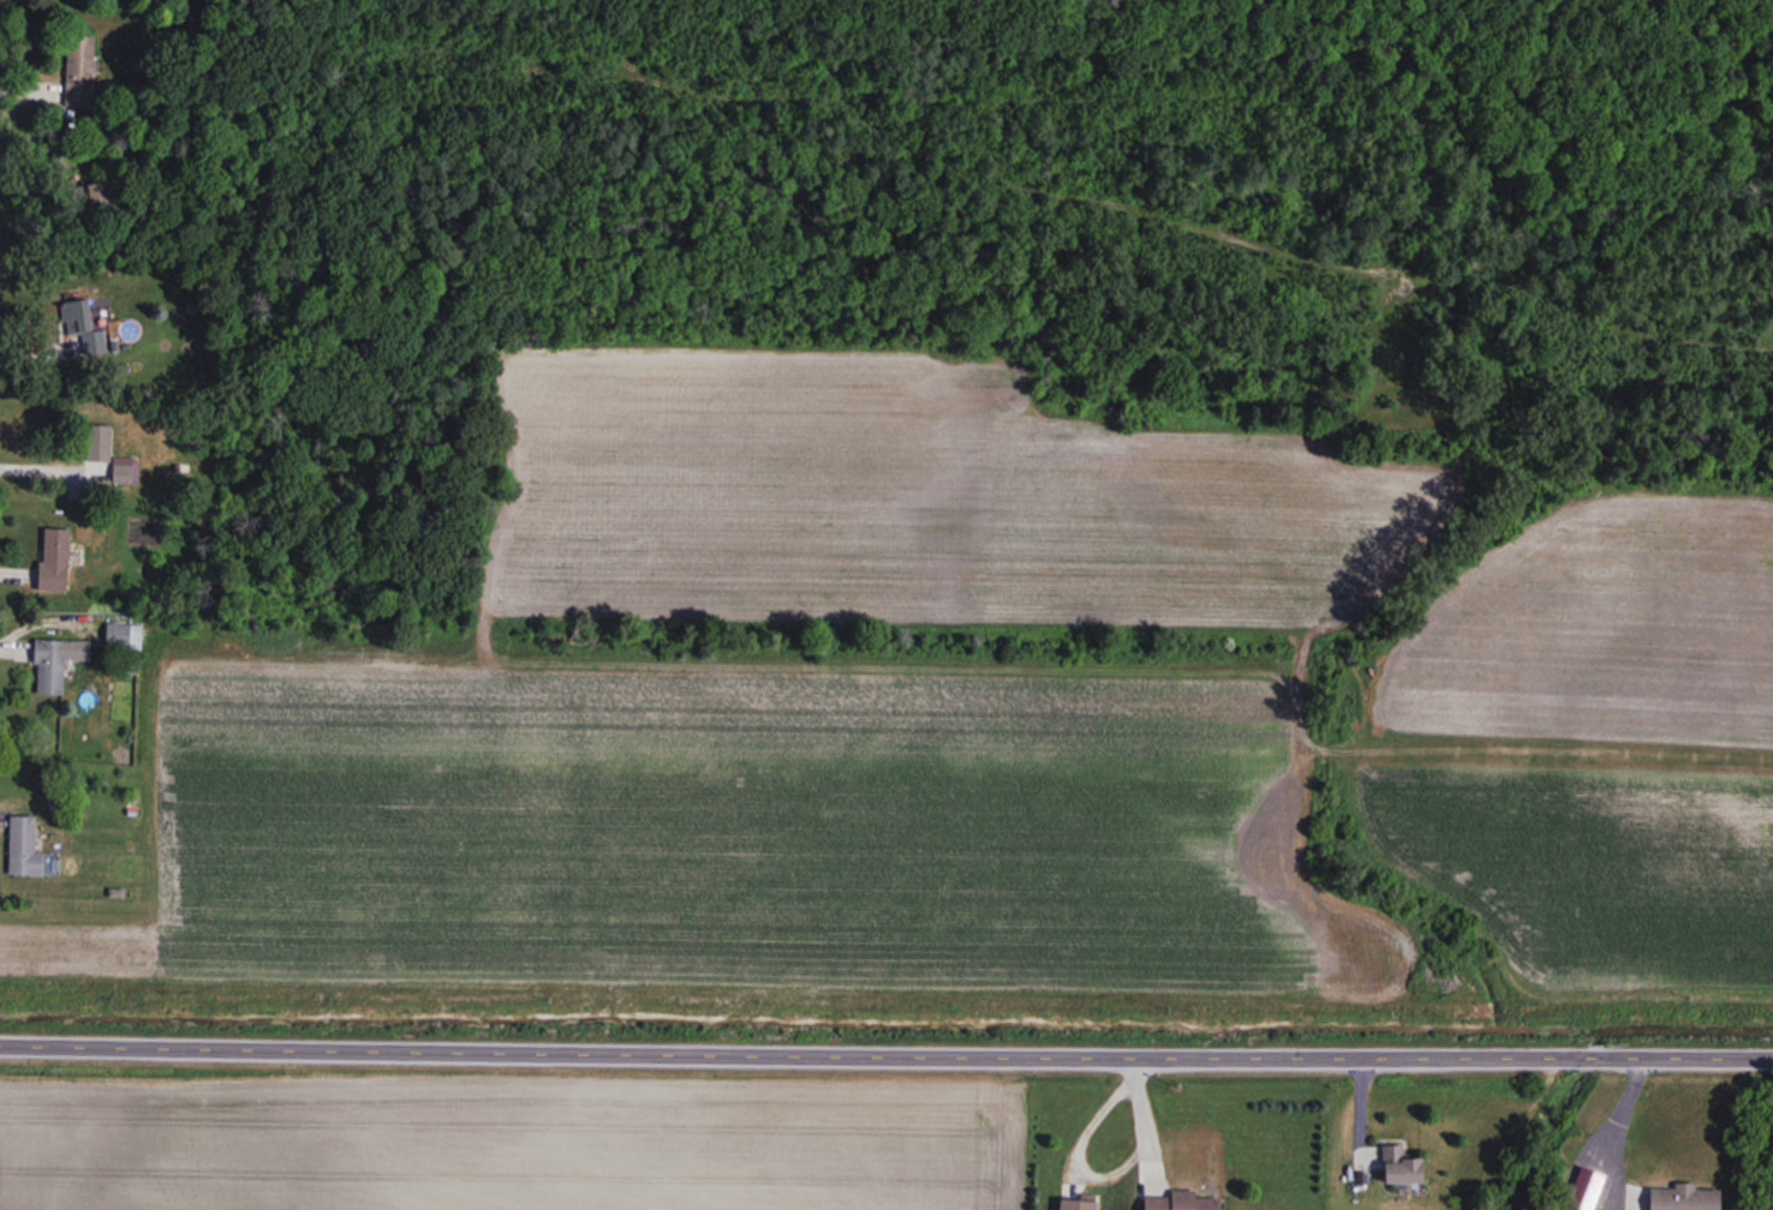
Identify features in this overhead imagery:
building: (78, 72)
building: (83, 325)
building: (98, 443)
road: (48, 465)
building: (55, 559)
building: (50, 666)
building: (25, 844)
road: (885, 1050)
road: (1610, 1121)
building: (1404, 1166)
road: (1082, 1167)
building: (1685, 1198)
building: (1186, 1202)
building: (1080, 1204)

